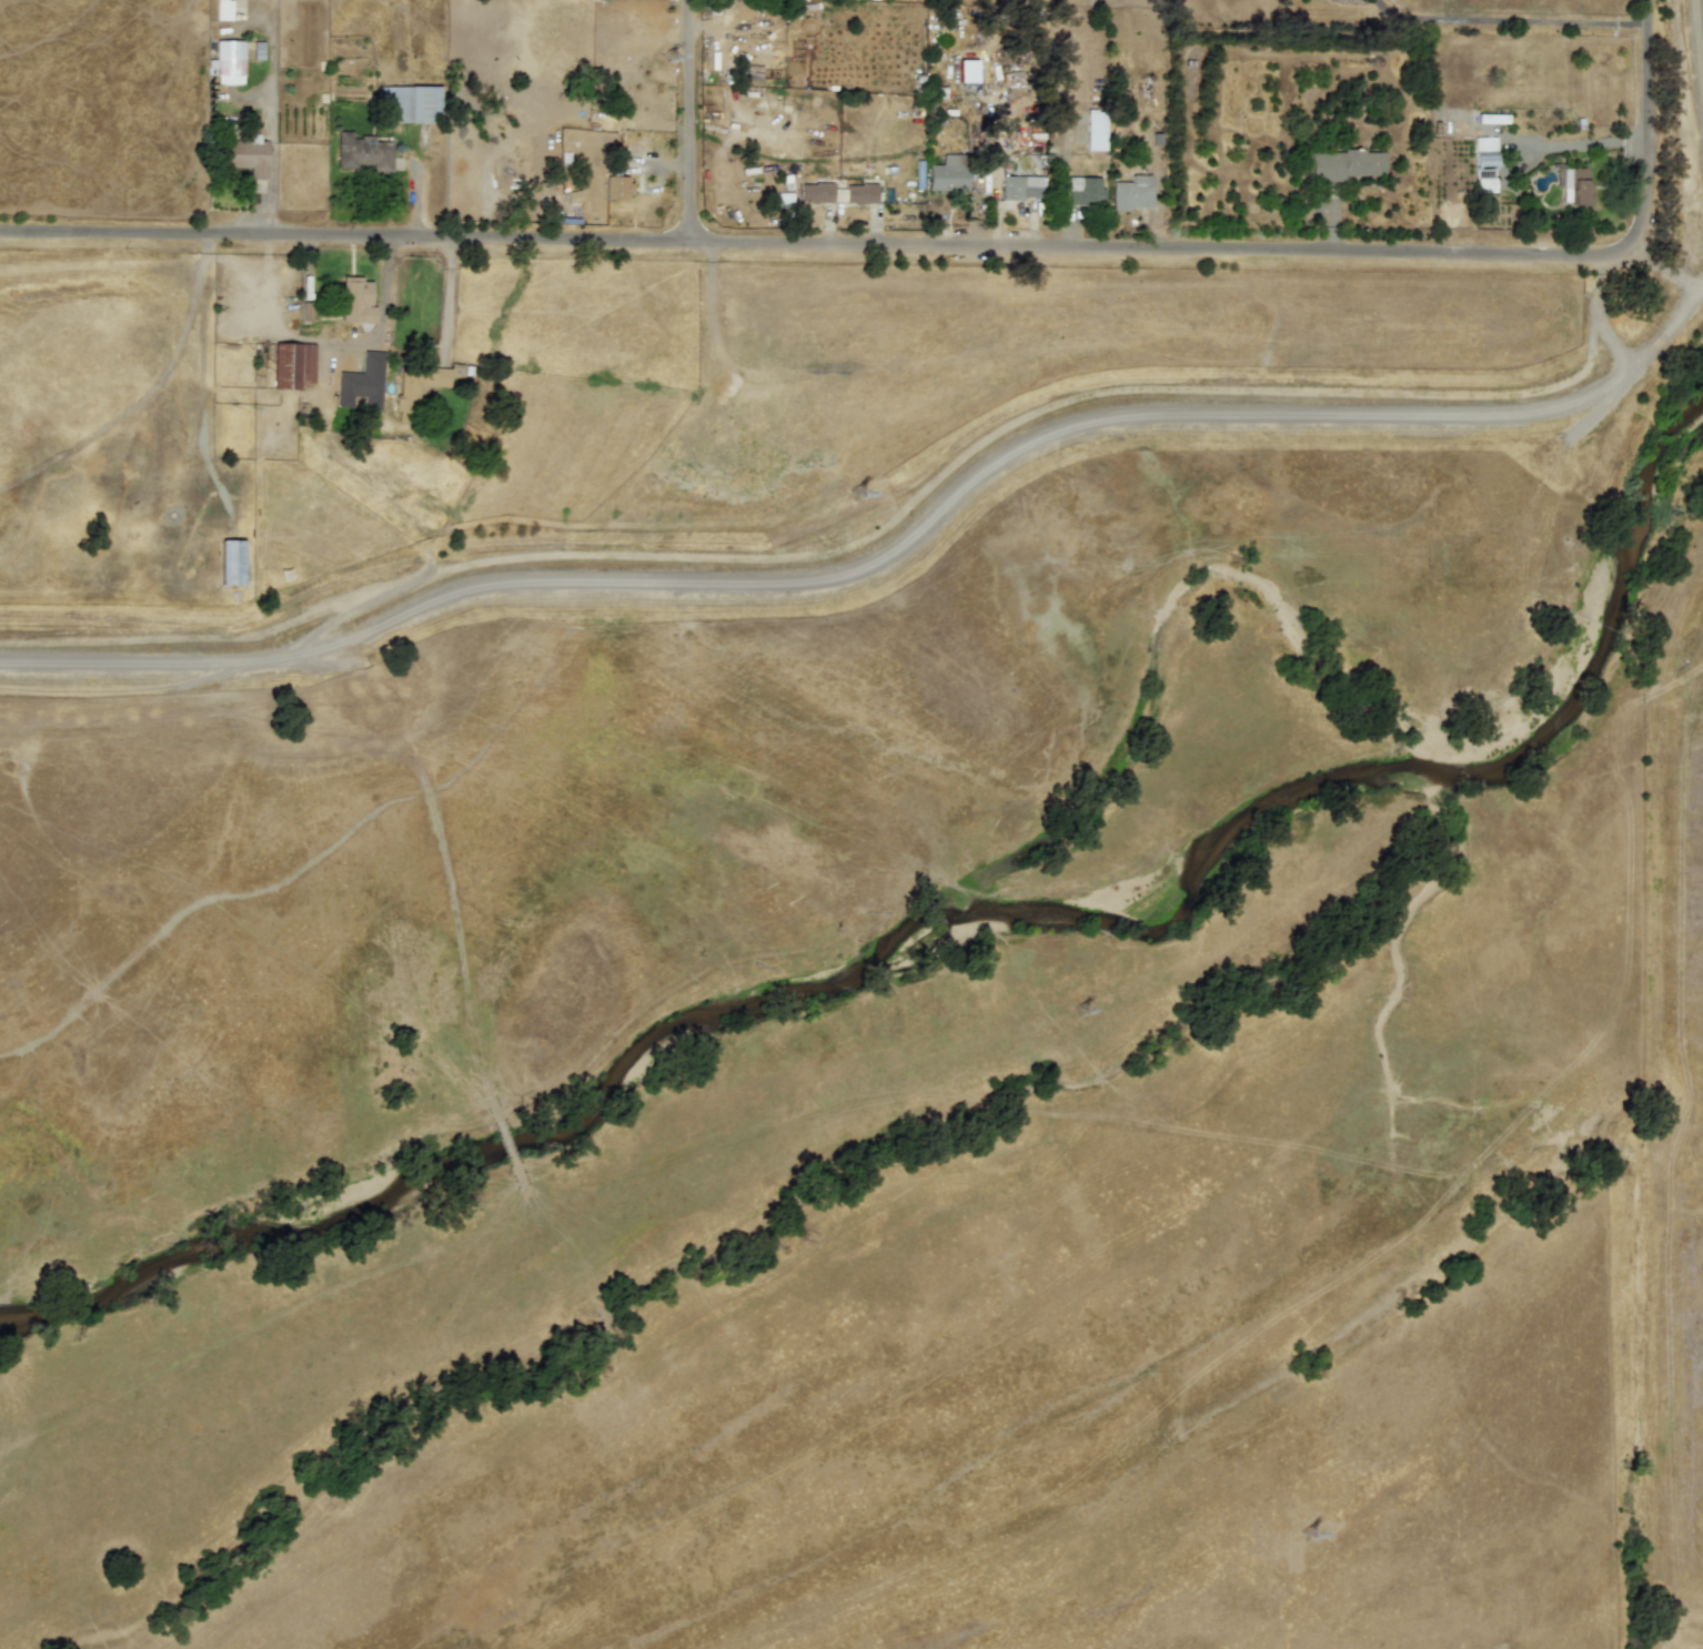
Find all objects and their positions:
road: (1702, 8)
building: (221, 9)
road: (1509, 20)
building: (258, 50)
power tower: (671, 59)
building: (226, 61)
building: (967, 71)
building: (750, 72)
building: (409, 102)
road: (688, 121)
road: (1650, 124)
building: (1095, 130)
building: (1483, 143)
building: (362, 152)
building: (246, 154)
building: (1346, 164)
building: (1489, 171)
building: (948, 172)
building: (1574, 185)
building: (615, 186)
building: (1018, 186)
building: (1084, 190)
building: (836, 192)
building: (1131, 192)
road: (824, 244)
road: (447, 297)
building: (355, 300)
road: (1600, 313)
building: (292, 364)
building: (361, 382)
building: (406, 403)
road: (1287, 414)
power tower: (873, 525)
building: (231, 562)
crop: (520, 738)
power tower: (1082, 1012)
crop: (1669, 1053)
power tower: (1302, 1514)

